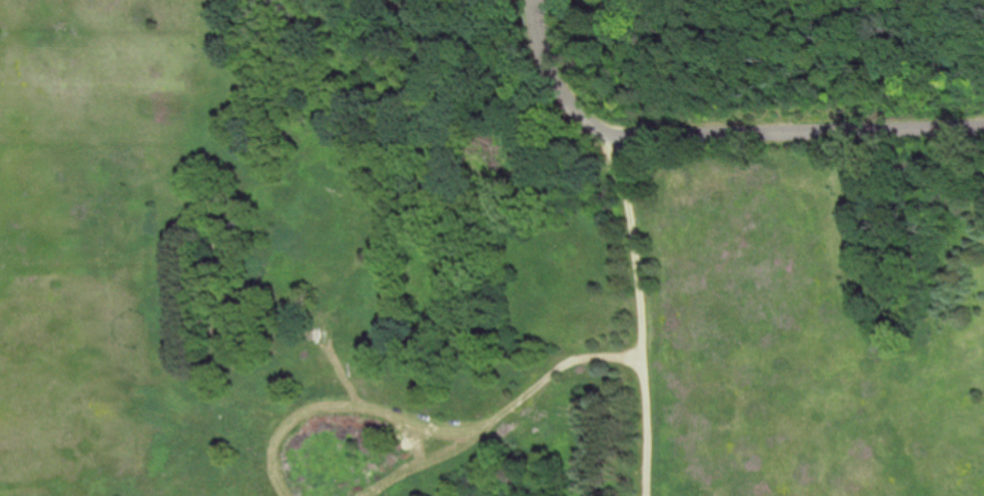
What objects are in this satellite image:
road: (566, 74)
road: (801, 130)
park: (459, 266)
road: (644, 313)

